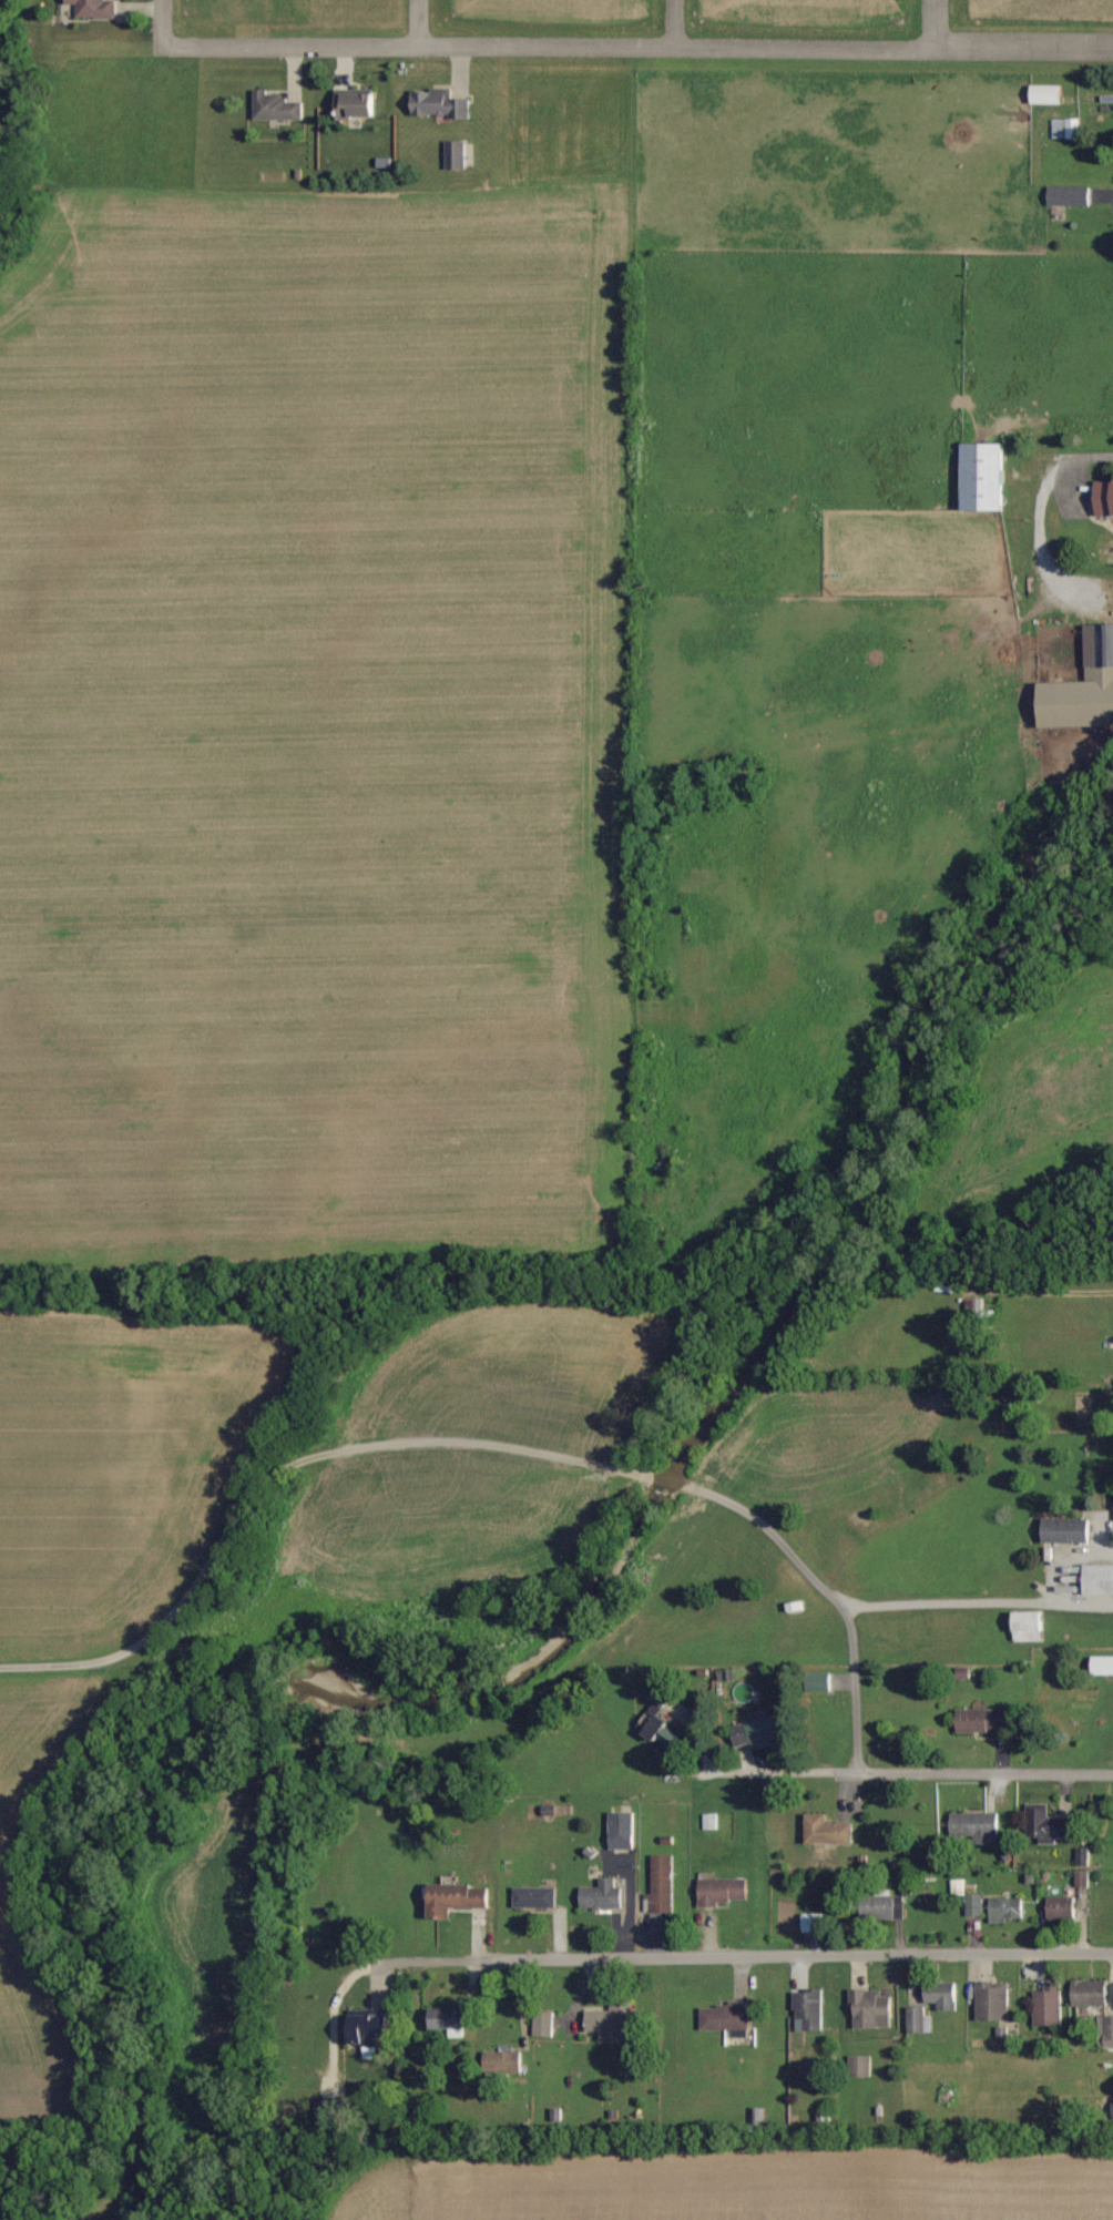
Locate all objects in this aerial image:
building: (95, 8)
road: (157, 22)
road: (416, 23)
road: (673, 23)
road: (933, 24)
road: (634, 47)
building: (1048, 94)
building: (439, 104)
building: (358, 105)
building: (276, 106)
building: (1066, 129)
building: (456, 154)
building: (1069, 196)
building: (984, 477)
building: (1104, 498)
road: (1038, 503)
building: (1084, 688)
road: (273, 1476)
road: (661, 1481)
building: (1066, 1531)
building: (1100, 1580)
road: (834, 1599)
road: (976, 1603)
building: (1029, 1628)
building: (1103, 1667)
building: (820, 1683)
building: (661, 1698)
building: (982, 1721)
building: (760, 1733)
road: (899, 1774)
building: (709, 1822)
building: (1046, 1825)
building: (976, 1827)
building: (622, 1832)
building: (828, 1832)
building: (1081, 1880)
building: (661, 1886)
building: (722, 1891)
building: (602, 1895)
building: (534, 1897)
building: (456, 1898)
building: (974, 1904)
building: (882, 1906)
building: (1007, 1908)
building: (1062, 1908)
building: (811, 1923)
road: (759, 1958)
building: (1090, 1993)
building: (942, 1995)
building: (993, 2000)
building: (1048, 2005)
building: (870, 2008)
building: (809, 2010)
building: (726, 2016)
building: (449, 2019)
building: (611, 2020)
building: (918, 2020)
building: (543, 2024)
building: (369, 2033)
building: (502, 2063)
building: (859, 2066)
building: (1107, 2104)

